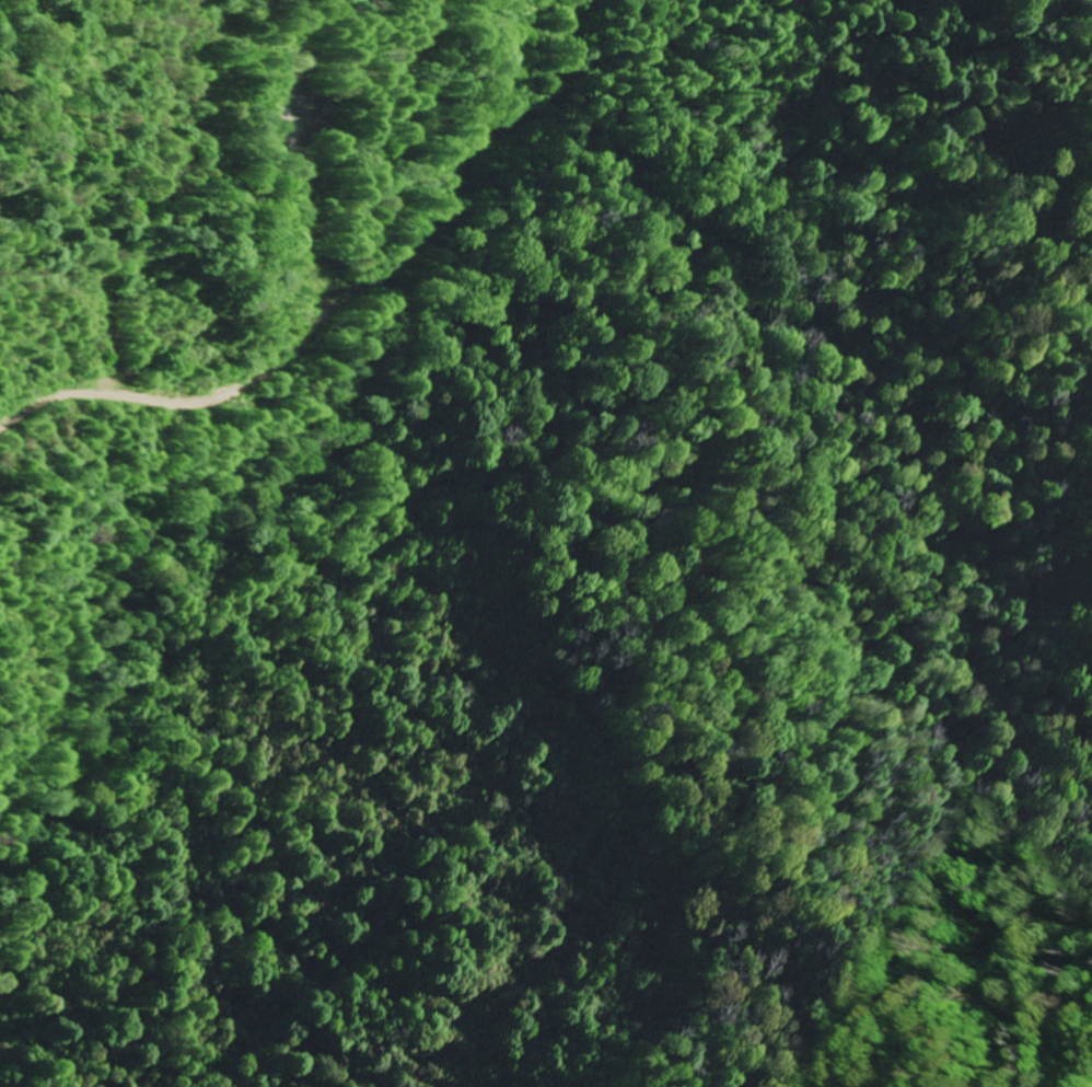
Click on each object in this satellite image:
building: (985, 760)

